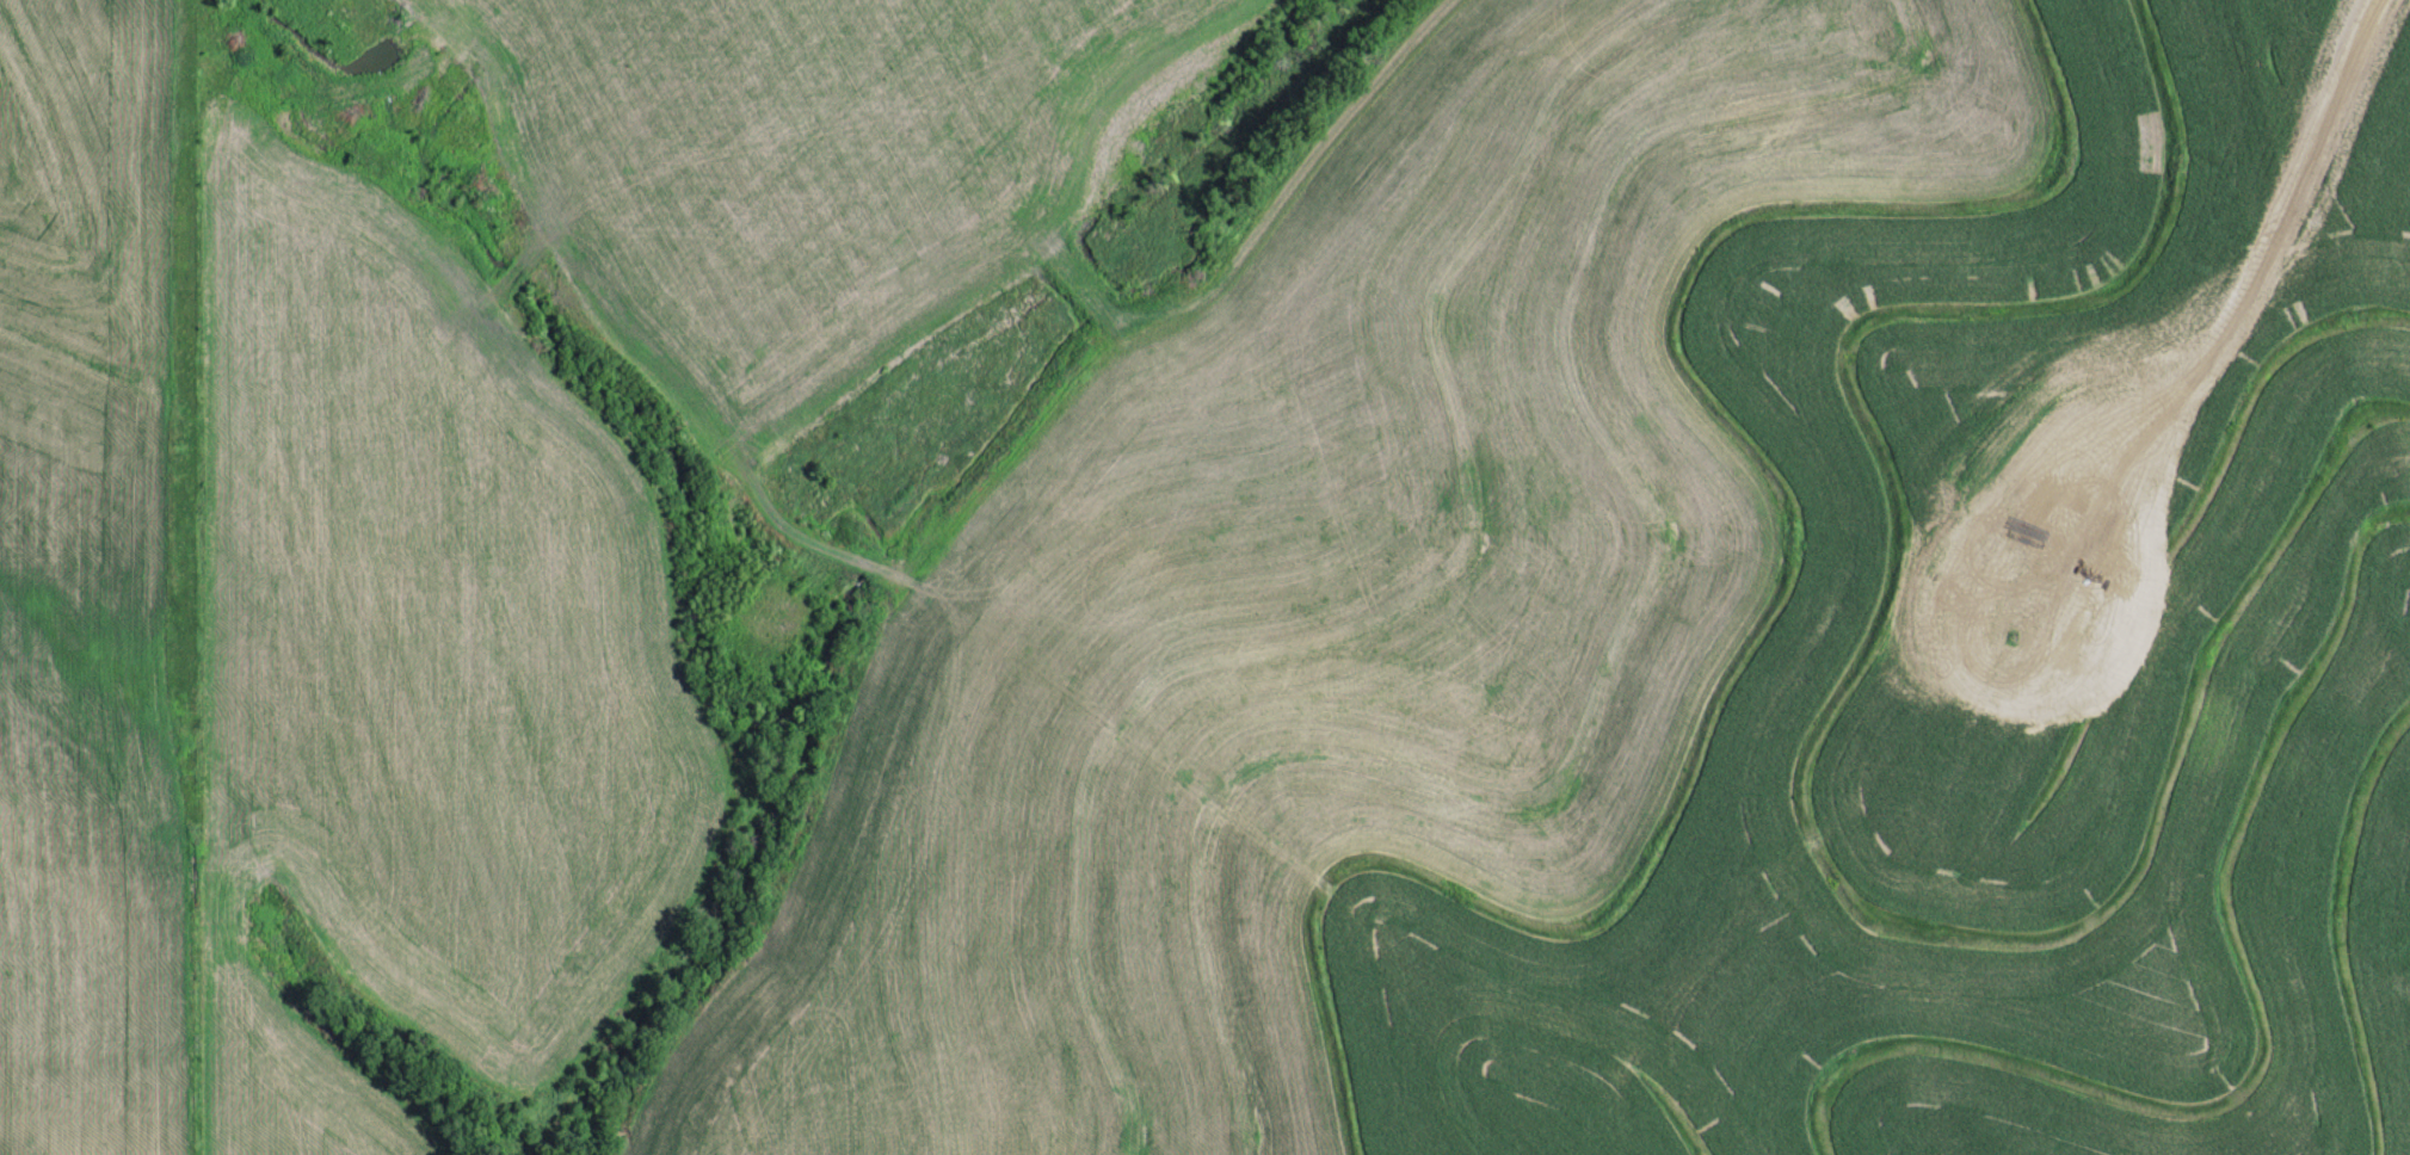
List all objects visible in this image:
wind turbine: (1998, 636)

